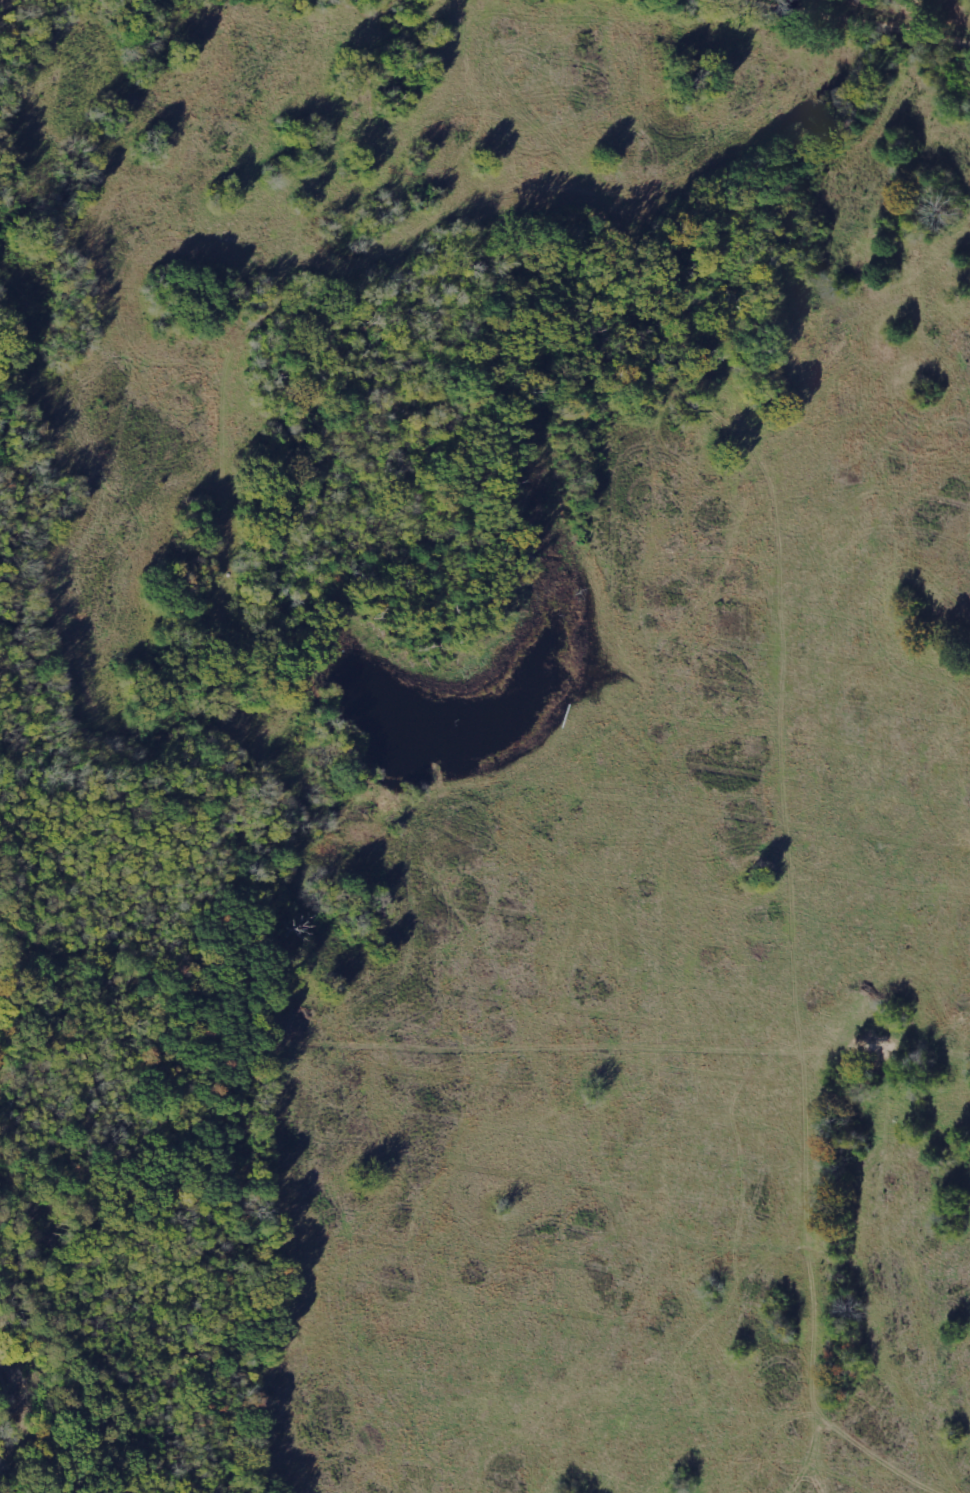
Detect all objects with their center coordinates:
road: (849, 23)

